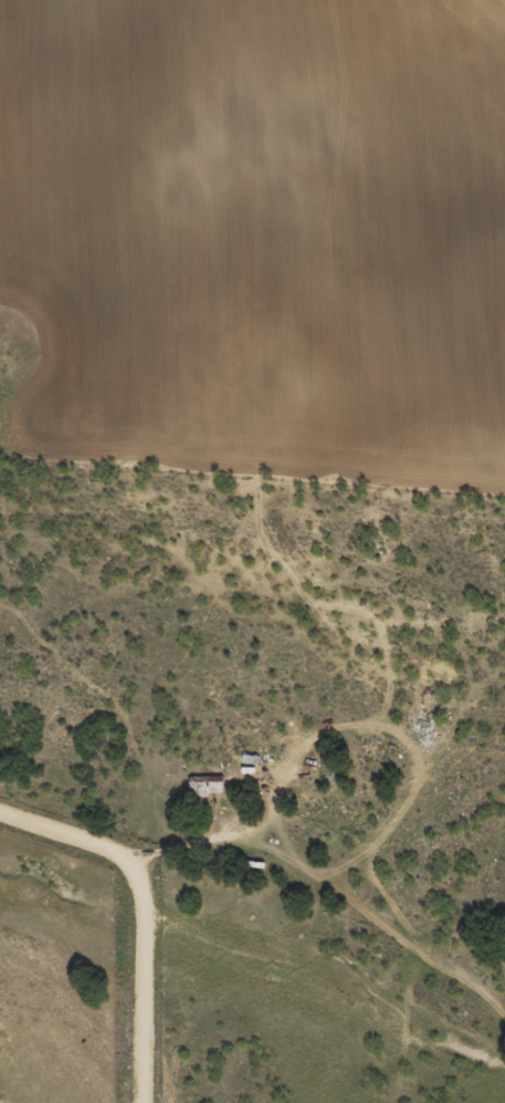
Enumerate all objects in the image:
building: (203, 793)
road: (140, 916)
road: (392, 965)

